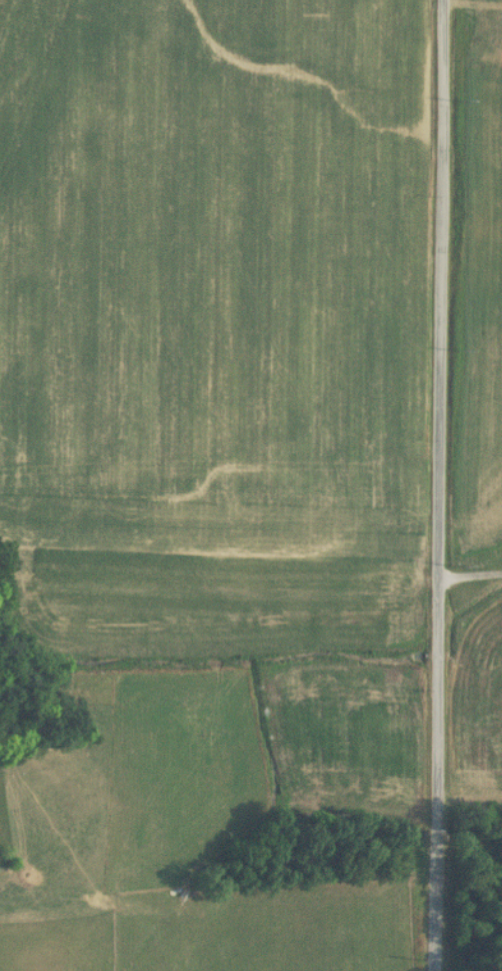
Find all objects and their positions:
road: (438, 485)
road: (470, 575)

